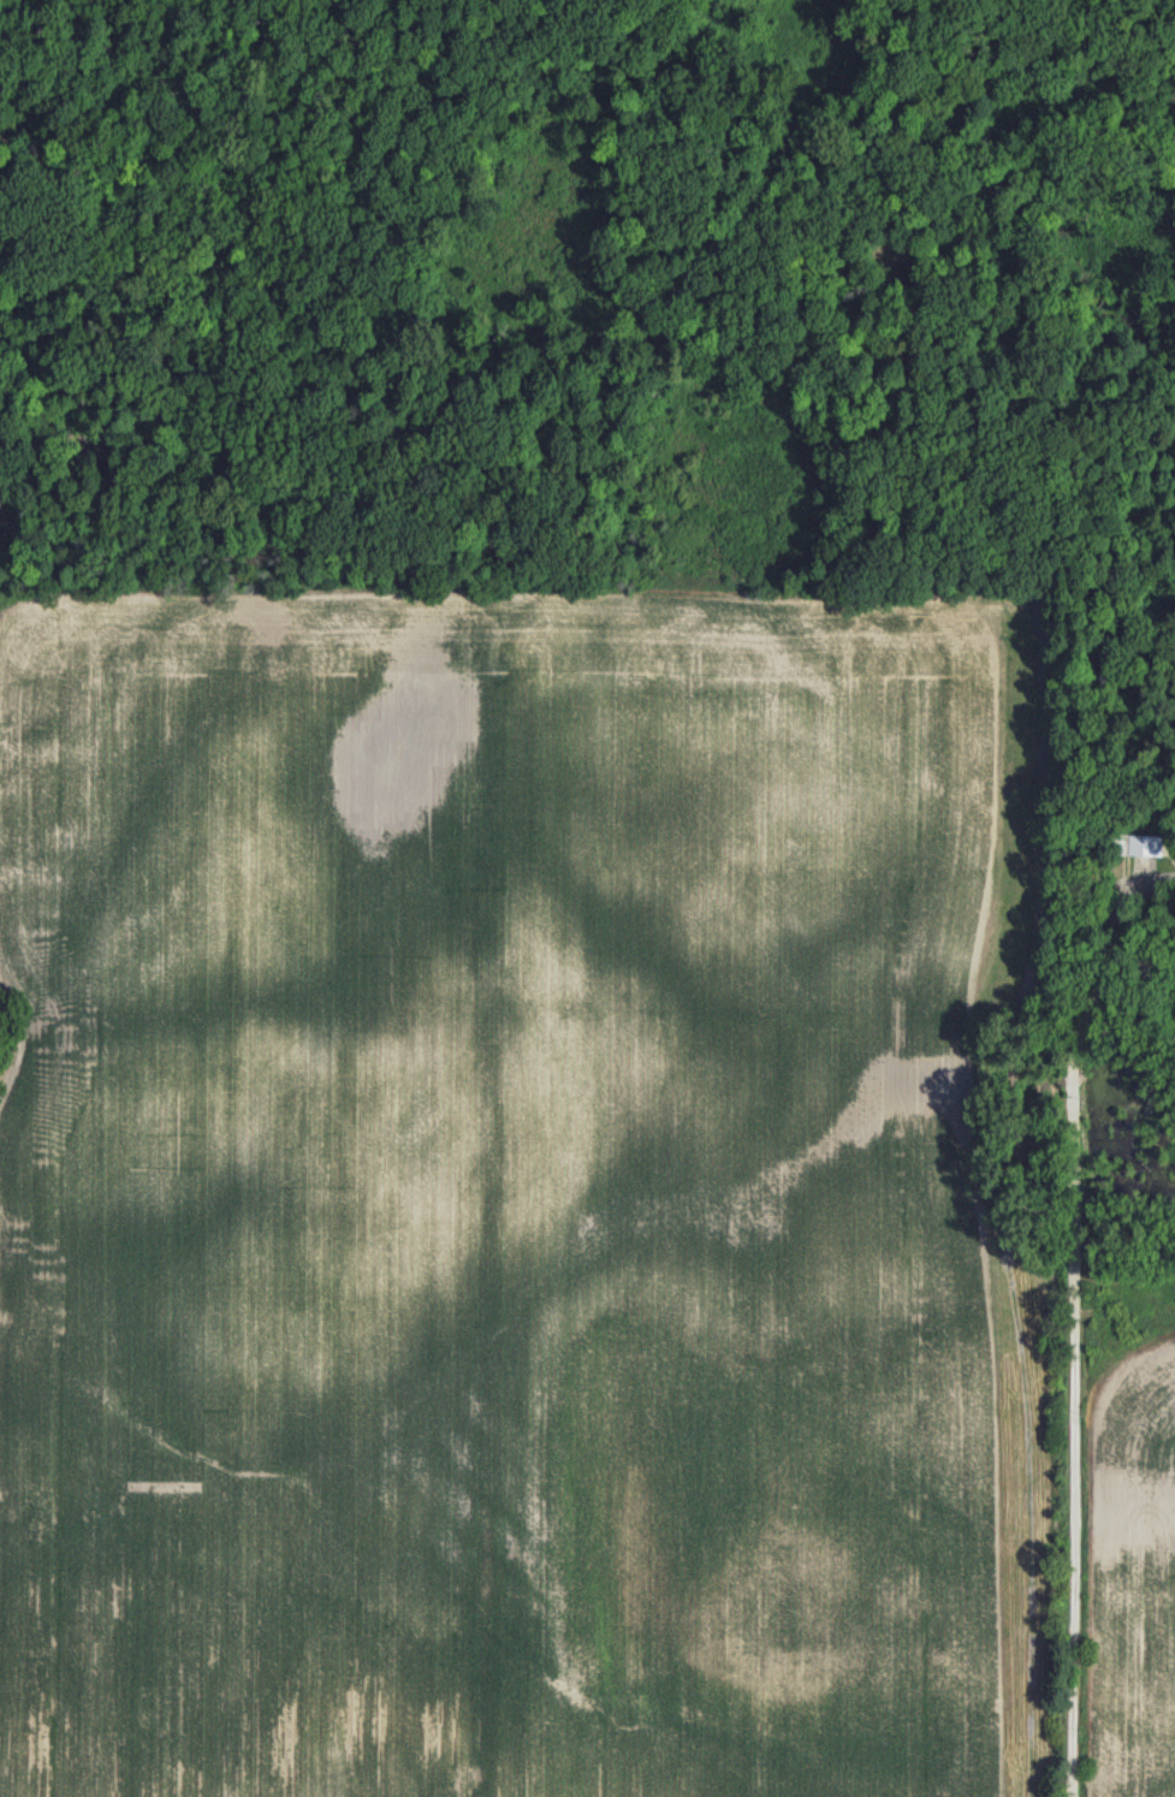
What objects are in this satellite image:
crop: (40, 4)
building: (1143, 844)
crop: (557, 1209)
road: (1070, 1312)

